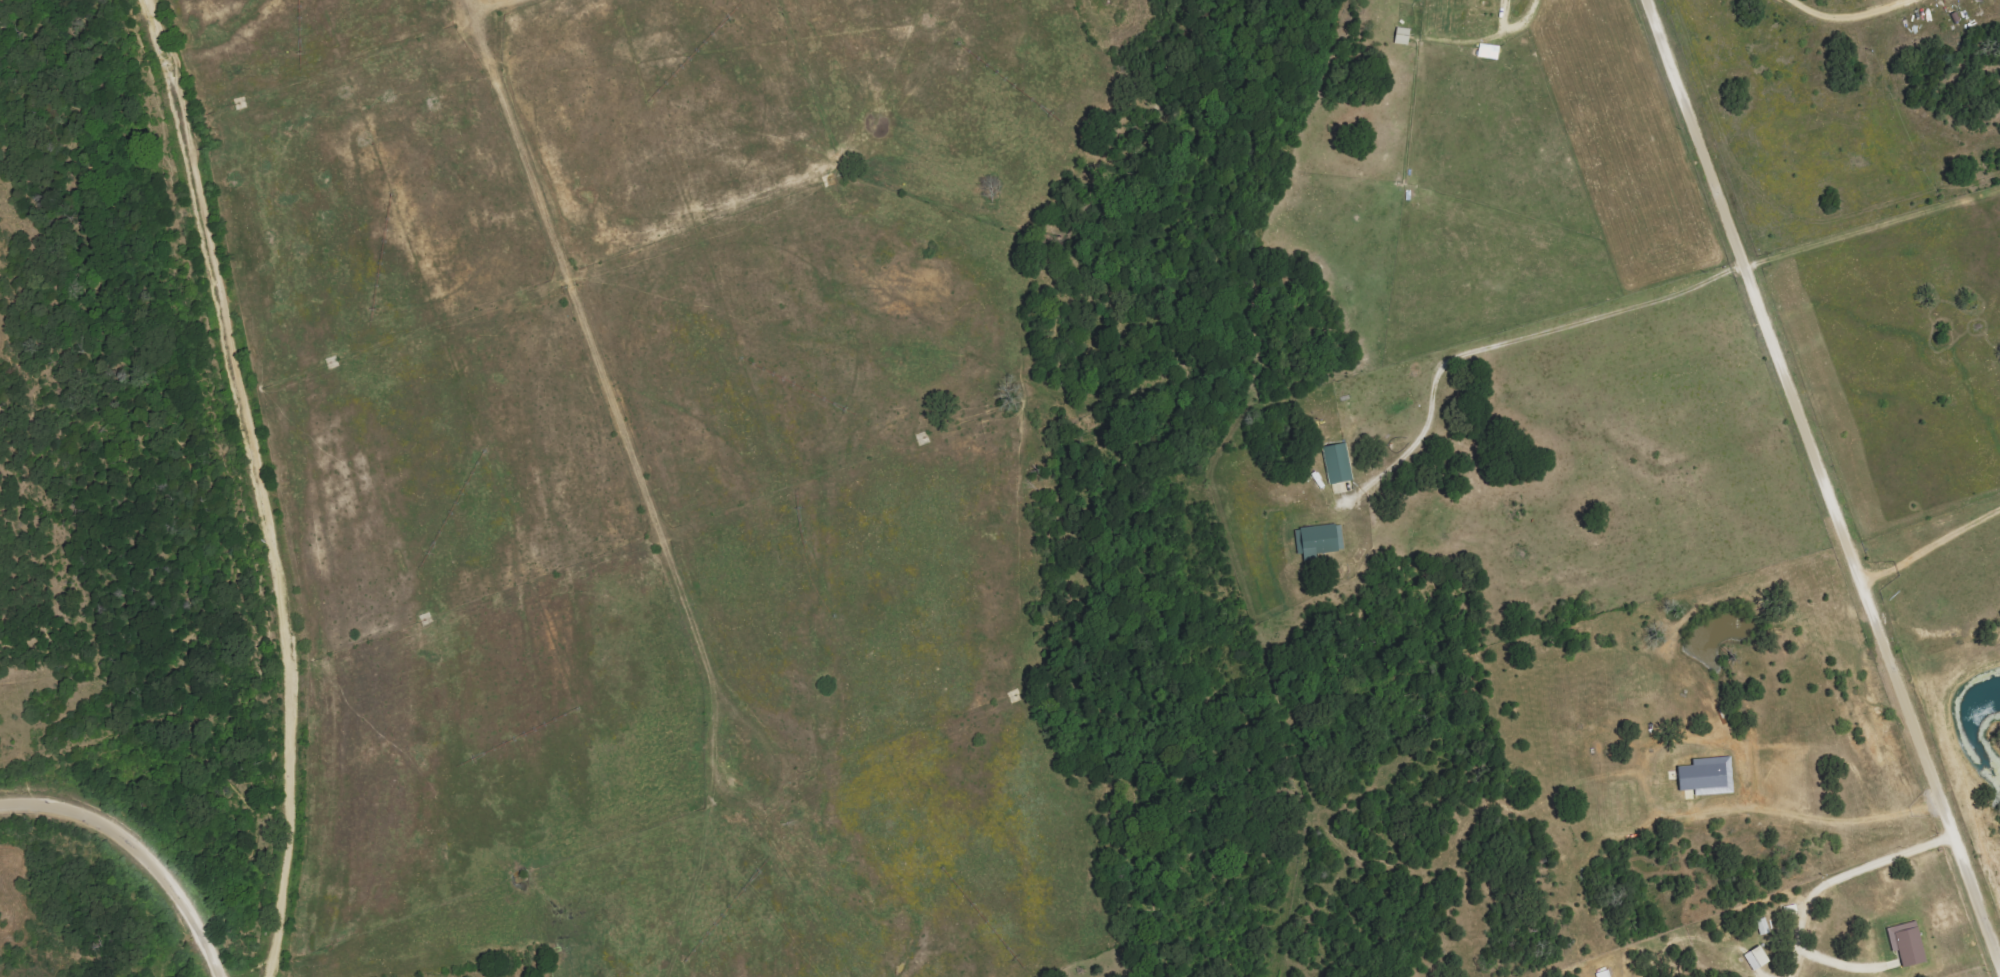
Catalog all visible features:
road: (1848, 16)
road: (1527, 20)
building: (1490, 52)
road: (1872, 229)
road: (1520, 339)
building: (1339, 464)
road: (1823, 483)
road: (255, 484)
building: (1322, 539)
building: (1709, 776)
road: (136, 852)
building: (1909, 943)
building: (1758, 958)

